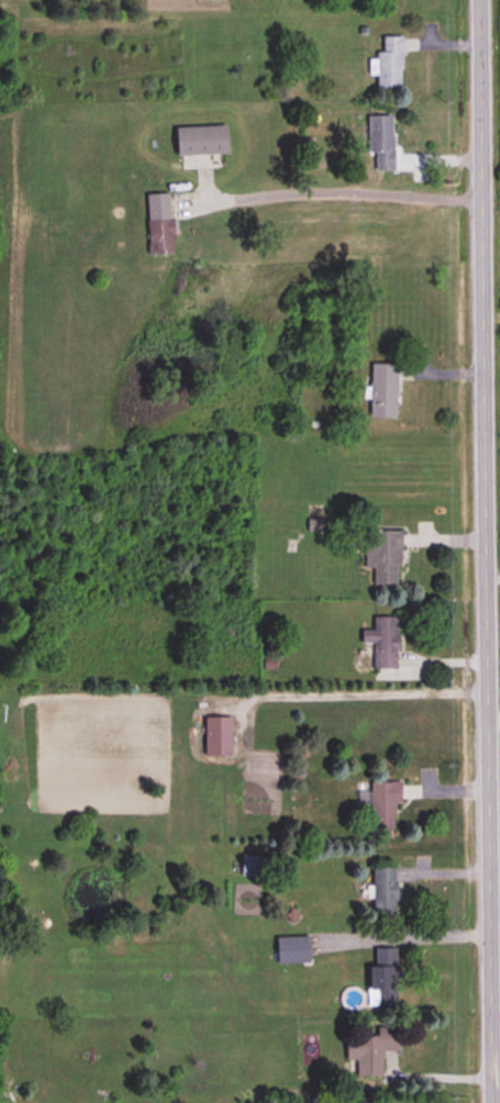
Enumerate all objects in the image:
building: (389, 65)
building: (200, 141)
building: (380, 142)
road: (344, 191)
building: (158, 223)
building: (382, 391)
road: (486, 551)
building: (384, 558)
building: (382, 643)
road: (352, 692)
road: (493, 717)
building: (216, 737)
building: (382, 807)
building: (251, 866)
building: (384, 891)
road: (495, 909)
road: (402, 935)
building: (291, 950)
building: (381, 978)
road: (495, 991)
building: (375, 1050)
road: (430, 1076)

